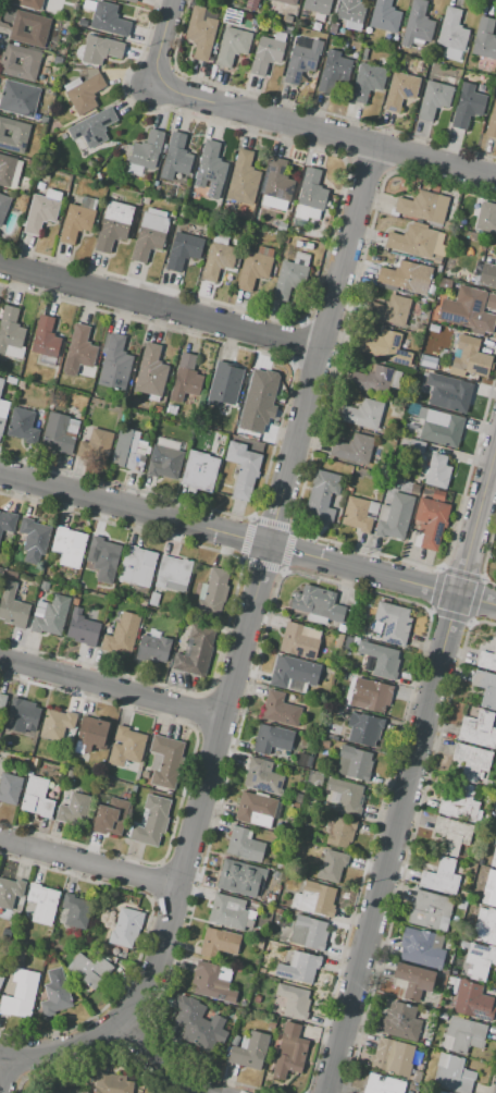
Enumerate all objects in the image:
building: (133, 1)
building: (286, 2)
building: (26, 3)
building: (318, 7)
building: (351, 10)
building: (232, 15)
building: (384, 16)
building: (286, 19)
building: (109, 20)
building: (417, 25)
building: (39, 29)
building: (286, 29)
building: (201, 33)
building: (452, 35)
building: (484, 39)
road: (159, 44)
building: (233, 46)
building: (100, 49)
building: (268, 52)
building: (302, 59)
building: (30, 61)
building: (335, 71)
building: (367, 82)
building: (400, 90)
building: (84, 93)
building: (18, 98)
building: (434, 99)
building: (467, 106)
building: (492, 122)
building: (91, 130)
road: (322, 132)
building: (13, 135)
building: (145, 152)
building: (176, 157)
building: (211, 170)
building: (9, 171)
building: (243, 179)
building: (276, 186)
building: (311, 189)
building: (146, 199)
building: (3, 206)
building: (423, 207)
building: (41, 210)
building: (486, 218)
building: (77, 220)
building: (154, 220)
building: (112, 224)
building: (281, 226)
building: (412, 240)
building: (146, 244)
building: (303, 245)
building: (183, 250)
building: (439, 250)
building: (218, 258)
building: (437, 259)
building: (255, 267)
building: (487, 275)
building: (290, 277)
building: (407, 278)
building: (491, 300)
road: (160, 306)
building: (467, 310)
building: (390, 311)
building: (433, 330)
building: (10, 332)
building: (45, 337)
building: (381, 344)
building: (79, 353)
building: (469, 357)
building: (47, 360)
building: (114, 363)
building: (420, 363)
building: (9, 367)
building: (151, 371)
building: (419, 373)
building: (187, 379)
building: (375, 380)
building: (416, 381)
building: (1, 383)
building: (20, 384)
building: (224, 384)
building: (257, 393)
building: (451, 396)
building: (411, 408)
building: (3, 414)
building: (362, 414)
building: (38, 421)
building: (22, 426)
building: (441, 427)
building: (59, 433)
building: (96, 445)
building: (417, 446)
building: (356, 450)
building: (128, 451)
building: (166, 463)
building: (243, 469)
building: (437, 471)
building: (198, 476)
road: (491, 477)
building: (414, 488)
building: (438, 495)
building: (323, 496)
building: (359, 513)
building: (395, 516)
building: (7, 521)
building: (430, 523)
road: (248, 538)
building: (34, 540)
building: (69, 546)
building: (102, 554)
building: (137, 566)
building: (173, 574)
road: (256, 585)
building: (45, 586)
building: (213, 592)
building: (153, 599)
building: (141, 602)
building: (318, 604)
building: (12, 606)
building: (148, 612)
building: (50, 615)
building: (393, 623)
building: (340, 627)
building: (82, 628)
building: (122, 634)
building: (299, 640)
building: (338, 640)
building: (347, 643)
building: (153, 650)
building: (196, 651)
building: (383, 660)
building: (487, 661)
building: (295, 674)
building: (486, 687)
road: (111, 689)
building: (372, 696)
building: (2, 701)
building: (346, 702)
building: (280, 710)
building: (22, 715)
building: (55, 724)
building: (331, 728)
building: (363, 729)
building: (479, 729)
building: (91, 735)
building: (272, 738)
building: (334, 738)
building: (324, 742)
building: (125, 747)
building: (300, 759)
building: (165, 761)
building: (471, 761)
building: (355, 763)
road: (410, 764)
building: (145, 775)
building: (262, 777)
building: (315, 777)
building: (10, 787)
building: (346, 796)
building: (36, 797)
building: (298, 797)
building: (460, 805)
building: (294, 807)
building: (74, 808)
building: (256, 810)
building: (494, 815)
building: (106, 821)
building: (151, 821)
building: (495, 827)
building: (339, 832)
building: (452, 834)
building: (244, 845)
building: (494, 857)
road: (89, 864)
building: (281, 867)
building: (331, 867)
building: (240, 877)
building: (441, 877)
building: (489, 888)
building: (10, 892)
building: (270, 898)
building: (314, 899)
building: (42, 902)
building: (76, 911)
building: (430, 911)
building: (228, 912)
building: (485, 925)
building: (126, 926)
building: (7, 932)
building: (308, 932)
building: (218, 942)
building: (256, 943)
building: (420, 948)
building: (51, 959)
building: (480, 960)
building: (299, 967)
building: (90, 969)
building: (260, 970)
building: (1, 979)
building: (413, 980)
building: (212, 982)
building: (20, 993)
building: (54, 993)
building: (257, 998)
building: (470, 999)
building: (294, 1002)
building: (280, 1020)
building: (400, 1021)
road: (114, 1022)
building: (198, 1024)
building: (271, 1024)
building: (462, 1035)
building: (236, 1041)
building: (250, 1051)
building: (289, 1052)
building: (392, 1056)
road: (1, 1063)
building: (452, 1073)
building: (416, 1077)
building: (112, 1083)
building: (382, 1084)
building: (67, 1091)
building: (83, 1092)
building: (435, 1092)

